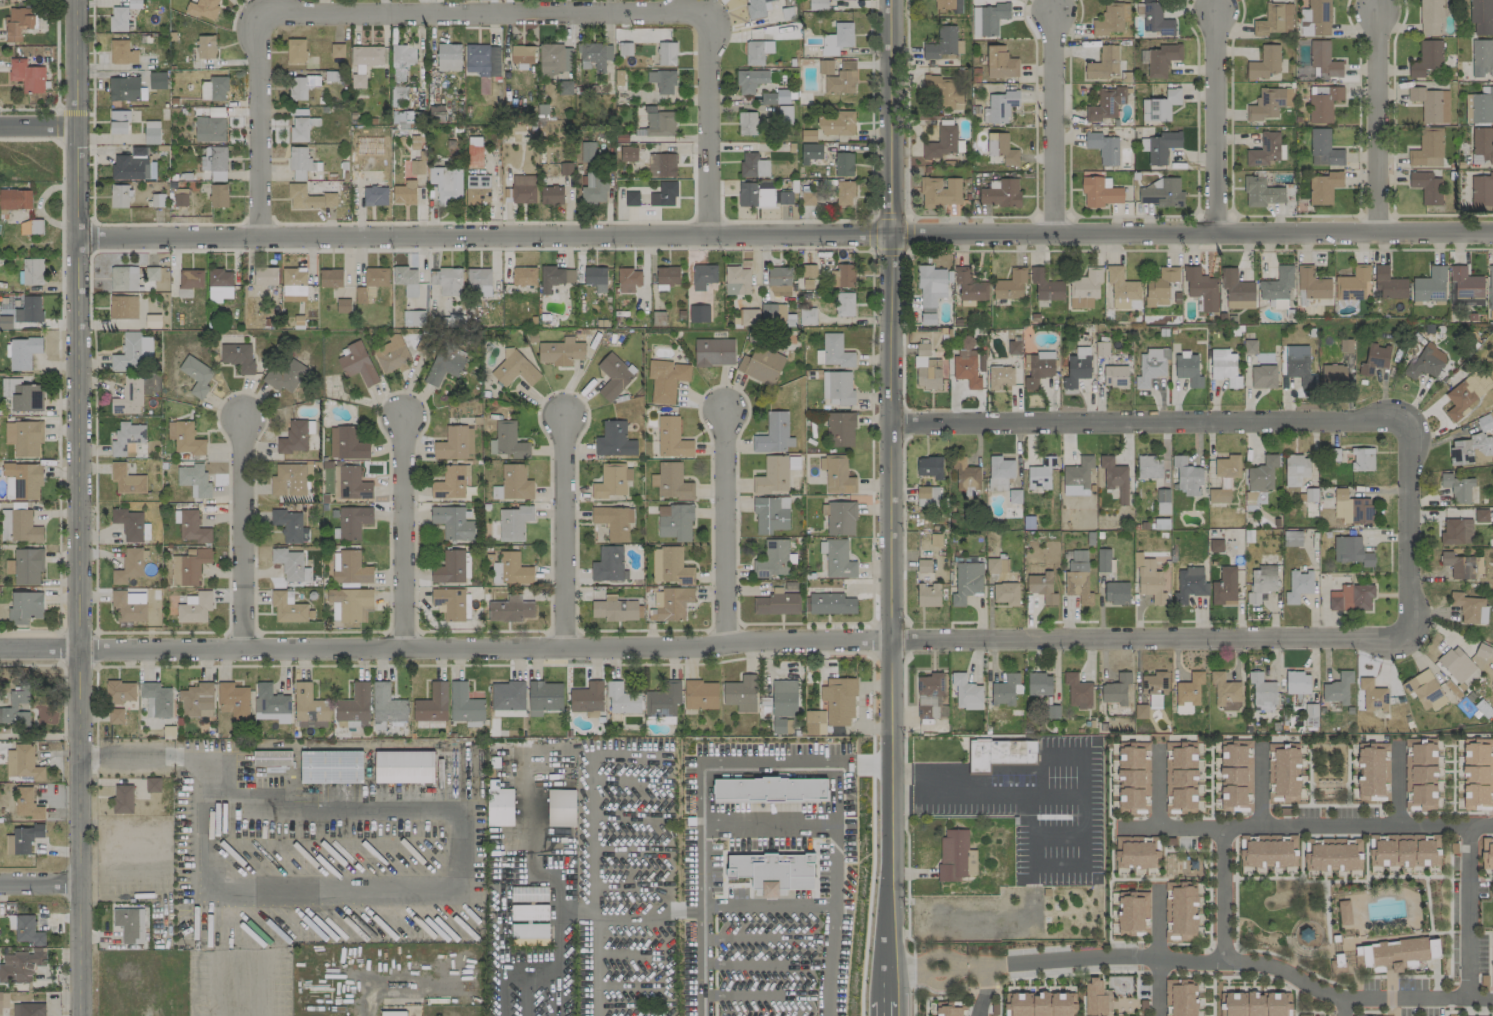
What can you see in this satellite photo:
building: (830, 0)
building: (134, 4)
building: (817, 5)
building: (949, 5)
building: (758, 7)
building: (203, 9)
road: (482, 12)
building: (1430, 16)
building: (1480, 17)
building: (1315, 18)
building: (118, 19)
building: (987, 19)
building: (1111, 19)
building: (1154, 19)
building: (1274, 19)
building: (17, 23)
building: (843, 29)
building: (943, 43)
building: (206, 47)
building: (337, 50)
building: (295, 51)
building: (757, 51)
building: (123, 53)
building: (666, 54)
building: (522, 55)
building: (593, 55)
building: (448, 57)
building: (1427, 58)
building: (1481, 58)
building: (402, 59)
building: (554, 59)
building: (1162, 59)
building: (1323, 59)
building: (482, 60)
building: (364, 62)
building: (1264, 62)
building: (1103, 63)
building: (825, 66)
building: (26, 75)
building: (841, 79)
building: (157, 80)
building: (750, 80)
building: (662, 81)
building: (214, 88)
building: (297, 88)
building: (123, 89)
building: (943, 92)
building: (774, 97)
building: (1269, 103)
building: (1323, 103)
building: (1106, 104)
building: (1431, 104)
building: (1160, 106)
building: (1481, 106)
building: (999, 107)
road: (28, 109)
road: (57, 109)
building: (436, 113)
building: (403, 117)
building: (118, 122)
building: (659, 122)
road: (1051, 122)
road: (1378, 122)
building: (747, 123)
road: (1215, 123)
building: (836, 124)
road: (36, 128)
building: (302, 128)
building: (209, 129)
building: (151, 132)
building: (808, 135)
building: (941, 142)
building: (1160, 146)
building: (1481, 146)
building: (1103, 147)
building: (1427, 148)
building: (1003, 149)
building: (1323, 149)
building: (1265, 150)
building: (587, 151)
building: (474, 152)
building: (810, 152)
building: (628, 154)
building: (214, 162)
building: (301, 163)
building: (843, 164)
building: (133, 165)
building: (662, 165)
building: (753, 165)
building: (416, 167)
building: (446, 184)
building: (1323, 187)
building: (1426, 187)
building: (594, 188)
building: (477, 189)
building: (523, 189)
building: (1481, 190)
building: (940, 192)
building: (1099, 192)
building: (1261, 192)
building: (404, 193)
building: (844, 193)
building: (1162, 193)
building: (218, 195)
building: (551, 195)
building: (664, 195)
building: (754, 195)
building: (119, 196)
building: (375, 196)
building: (180, 197)
building: (309, 198)
building: (631, 198)
building: (785, 198)
building: (808, 198)
building: (15, 199)
building: (157, 200)
building: (30, 227)
road: (783, 235)
building: (32, 271)
building: (808, 271)
building: (152, 273)
building: (163, 274)
building: (844, 275)
building: (265, 276)
building: (524, 276)
building: (667, 276)
building: (703, 276)
building: (123, 278)
building: (330, 278)
building: (551, 278)
building: (595, 278)
building: (779, 279)
building: (406, 280)
building: (628, 280)
building: (737, 280)
building: (189, 281)
building: (446, 281)
building: (478, 281)
building: (808, 283)
building: (1388, 283)
building: (371, 284)
building: (1277, 284)
building: (1352, 284)
building: (219, 285)
building: (970, 285)
building: (1010, 285)
building: (1046, 285)
building: (1311, 285)
building: (1430, 285)
building: (1160, 286)
building: (1464, 287)
building: (293, 288)
building: (1121, 288)
building: (1201, 288)
building: (1490, 288)
building: (1084, 289)
building: (930, 291)
building: (1237, 291)
building: (844, 304)
building: (342, 305)
building: (123, 307)
building: (28, 310)
building: (698, 313)
building: (749, 317)
building: (413, 318)
building: (656, 318)
building: (152, 321)
building: (5, 322)
building: (1346, 345)
building: (1249, 346)
building: (835, 350)
building: (23, 352)
building: (132, 352)
building: (560, 352)
building: (714, 352)
building: (391, 355)
building: (238, 356)
building: (1374, 359)
building: (1425, 362)
building: (357, 363)
building: (761, 365)
building: (1299, 365)
building: (1151, 366)
building: (443, 367)
building: (968, 367)
building: (1224, 367)
building: (1037, 368)
building: (1188, 369)
building: (515, 370)
building: (1076, 370)
building: (927, 373)
building: (1333, 374)
building: (284, 375)
building: (613, 375)
building: (196, 376)
building: (1115, 376)
building: (1263, 376)
building: (1000, 377)
building: (666, 379)
road: (58, 382)
building: (837, 387)
building: (128, 396)
building: (27, 397)
building: (1462, 397)
road: (1138, 422)
building: (840, 429)
building: (774, 434)
building: (24, 437)
building: (184, 437)
building: (127, 438)
building: (293, 438)
building: (672, 438)
building: (507, 440)
building: (614, 440)
building: (455, 443)
building: (346, 444)
building: (1468, 449)
building: (1362, 459)
building: (793, 462)
building: (929, 467)
building: (1149, 467)
building: (1295, 469)
building: (999, 472)
building: (1040, 474)
building: (1262, 474)
building: (772, 476)
building: (837, 476)
building: (966, 476)
building: (1187, 476)
building: (1077, 477)
building: (1115, 477)
building: (1224, 478)
building: (126, 479)
building: (194, 480)
building: (288, 480)
building: (22, 481)
building: (612, 481)
building: (450, 482)
building: (671, 482)
building: (353, 483)
building: (513, 483)
building: (1457, 487)
building: (927, 496)
building: (1014, 496)
building: (1162, 500)
road: (77, 507)
building: (1353, 507)
road: (889, 508)
building: (770, 514)
building: (840, 518)
building: (614, 521)
building: (353, 522)
building: (514, 522)
building: (452, 523)
building: (676, 523)
building: (128, 524)
building: (288, 525)
building: (191, 526)
building: (24, 527)
road: (726, 528)
road: (1407, 528)
road: (562, 531)
road: (240, 532)
road: (403, 532)
building: (1456, 532)
building: (1292, 538)
building: (1352, 552)
building: (774, 559)
building: (838, 560)
building: (1104, 561)
building: (608, 564)
building: (290, 565)
building: (923, 565)
building: (997, 565)
building: (1462, 565)
building: (27, 566)
building: (128, 566)
building: (188, 566)
building: (670, 566)
building: (449, 567)
building: (351, 568)
building: (510, 570)
building: (923, 576)
building: (1077, 577)
building: (1148, 580)
building: (966, 582)
building: (1261, 582)
building: (1189, 585)
building: (1298, 586)
building: (1041, 587)
building: (1224, 587)
building: (1006, 593)
building: (1116, 593)
building: (928, 595)
building: (1351, 597)
building: (451, 603)
building: (350, 604)
building: (670, 604)
building: (776, 604)
building: (831, 604)
building: (25, 607)
building: (194, 607)
building: (287, 607)
building: (128, 608)
building: (1469, 608)
building: (511, 609)
building: (614, 609)
road: (694, 642)
building: (1456, 664)
building: (1297, 683)
building: (1039, 684)
building: (1154, 688)
building: (1338, 688)
building: (1005, 689)
building: (1116, 689)
building: (119, 691)
building: (1077, 691)
building: (1426, 691)
building: (966, 692)
building: (1188, 693)
building: (1225, 693)
building: (1262, 693)
building: (700, 694)
building: (741, 694)
building: (507, 695)
building: (1372, 695)
building: (544, 697)
building: (587, 697)
building: (930, 697)
building: (784, 698)
building: (622, 699)
building: (156, 700)
building: (233, 700)
building: (270, 700)
building: (663, 700)
building: (839, 700)
building: (196, 701)
building: (432, 703)
building: (308, 704)
building: (464, 704)
building: (355, 705)
building: (387, 705)
building: (15, 710)
building: (115, 716)
building: (814, 723)
building: (311, 724)
building: (429, 724)
building: (778, 725)
building: (788, 726)
building: (999, 753)
building: (271, 758)
building: (22, 762)
road: (761, 765)
building: (331, 767)
building: (404, 767)
building: (1281, 770)
building: (1372, 771)
building: (1418, 773)
building: (1477, 773)
building: (1235, 774)
building: (1133, 776)
building: (1181, 776)
building: (152, 784)
road: (1260, 784)
road: (1396, 785)
road: (1157, 787)
building: (770, 790)
road: (1035, 792)
building: (122, 799)
building: (27, 803)
road: (1328, 804)
building: (498, 805)
building: (561, 808)
road: (1259, 809)
road: (1490, 812)
road: (1395, 813)
road: (1449, 813)
road: (592, 814)
road: (1210, 814)
road: (1156, 818)
road: (811, 822)
road: (1305, 826)
road: (458, 834)
building: (22, 839)
road: (907, 845)
building: (1135, 851)
building: (1267, 852)
building: (1487, 853)
building: (1333, 854)
building: (955, 856)
road: (1057, 866)
road: (1163, 867)
building: (1191, 868)
road: (870, 876)
road: (1486, 879)
road: (1468, 880)
road: (1345, 881)
road: (1109, 883)
road: (39, 885)
road: (1208, 894)
road: (822, 907)
road: (571, 909)
building: (1181, 909)
building: (1132, 912)
road: (1468, 912)
park: (1282, 920)
road: (1158, 923)
building: (129, 924)
road: (706, 925)
building: (27, 930)
road: (769, 939)
road: (1155, 942)
road: (1224, 948)
building: (1393, 953)
road: (1272, 954)
road: (1160, 957)
road: (768, 964)
road: (929, 964)
building: (20, 965)
road: (912, 970)
road: (1159, 973)
road: (1067, 974)
road: (1292, 975)
road: (384, 986)
road: (1158, 986)
road: (985, 987)
road: (984, 990)
road: (941, 992)
road: (767, 995)
road: (947, 996)
building: (1094, 997)
building: (1180, 997)
road: (1416, 998)
road: (1390, 1000)
road: (913, 1001)
building: (2, 1003)
building: (1039, 1003)
building: (1233, 1003)
building: (1253, 1004)
building: (1277, 1004)
building: (28, 1009)
building: (949, 1009)
building: (393, 1013)
road: (1392, 1013)

